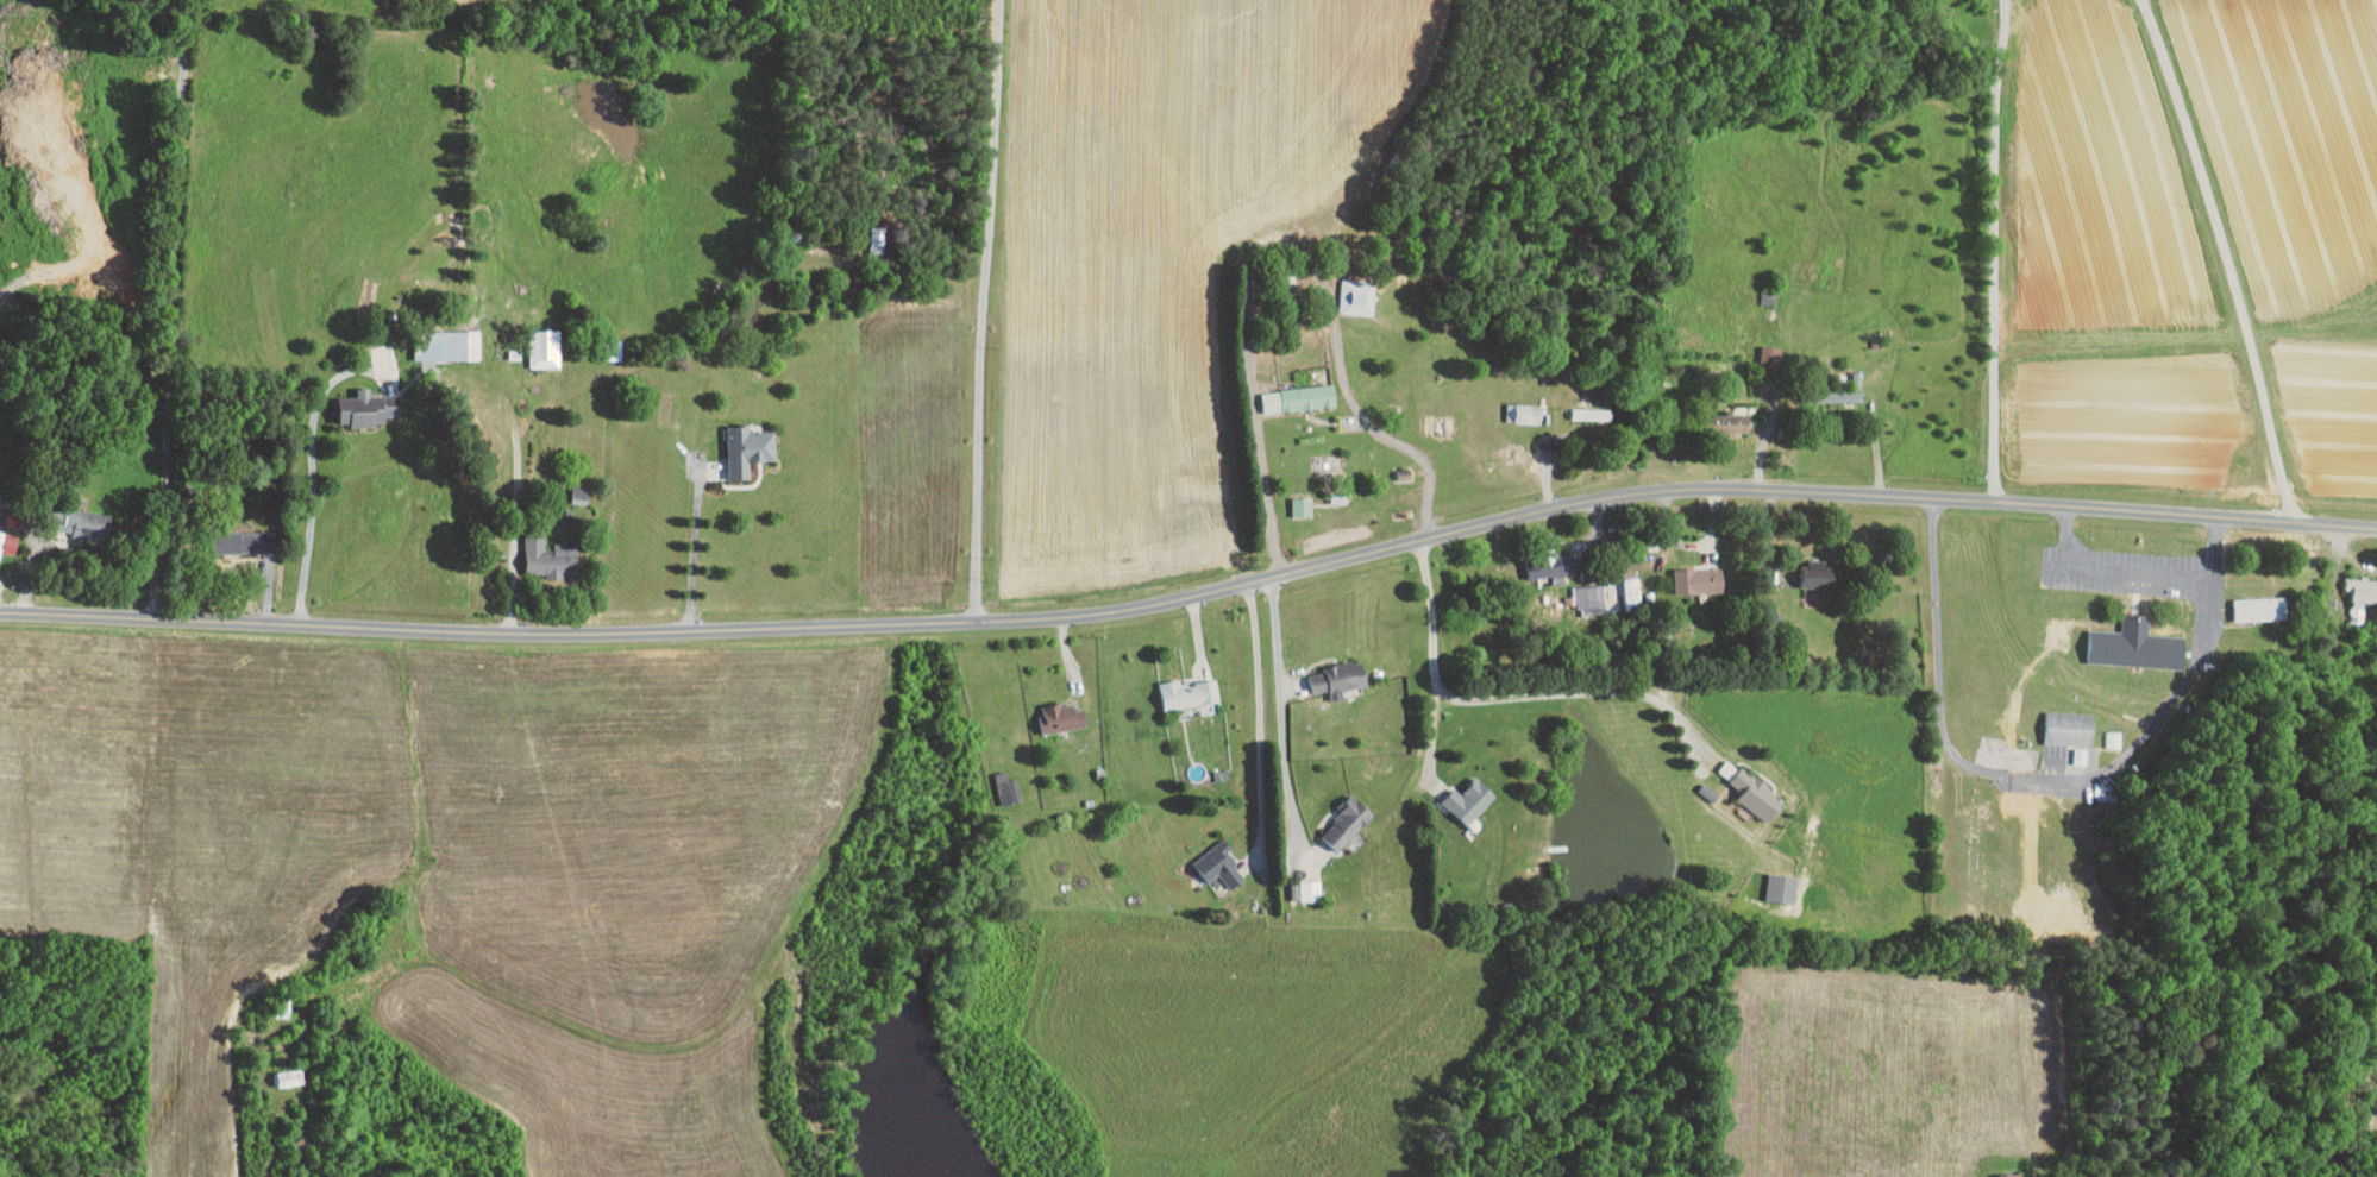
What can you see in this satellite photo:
road: (1988, 250)
road: (2227, 257)
building: (1347, 289)
road: (171, 309)
road: (983, 309)
building: (437, 339)
building: (533, 341)
road: (1338, 361)
building: (1288, 391)
building: (1842, 398)
building: (357, 402)
building: (1523, 414)
building: (1592, 414)
building: (1731, 423)
road: (1765, 441)
building: (736, 442)
road: (1423, 451)
road: (1545, 462)
road: (312, 479)
building: (1290, 499)
building: (79, 520)
building: (232, 535)
road: (696, 548)
building: (540, 552)
building: (1549, 566)
road: (2112, 572)
building: (1817, 574)
building: (1698, 581)
building: (1632, 593)
road: (1193, 596)
building: (2360, 596)
building: (1591, 598)
building: (2259, 609)
building: (2135, 649)
building: (1328, 672)
building: (1177, 686)
road: (1501, 698)
building: (1050, 711)
road: (1281, 716)
road: (1260, 717)
building: (2069, 726)
road: (2044, 775)
building: (992, 780)
building: (1756, 793)
building: (1468, 799)
building: (1336, 816)
building: (1206, 857)
building: (1298, 882)
building: (1781, 886)
building: (278, 1069)
building: (2011, 1175)

